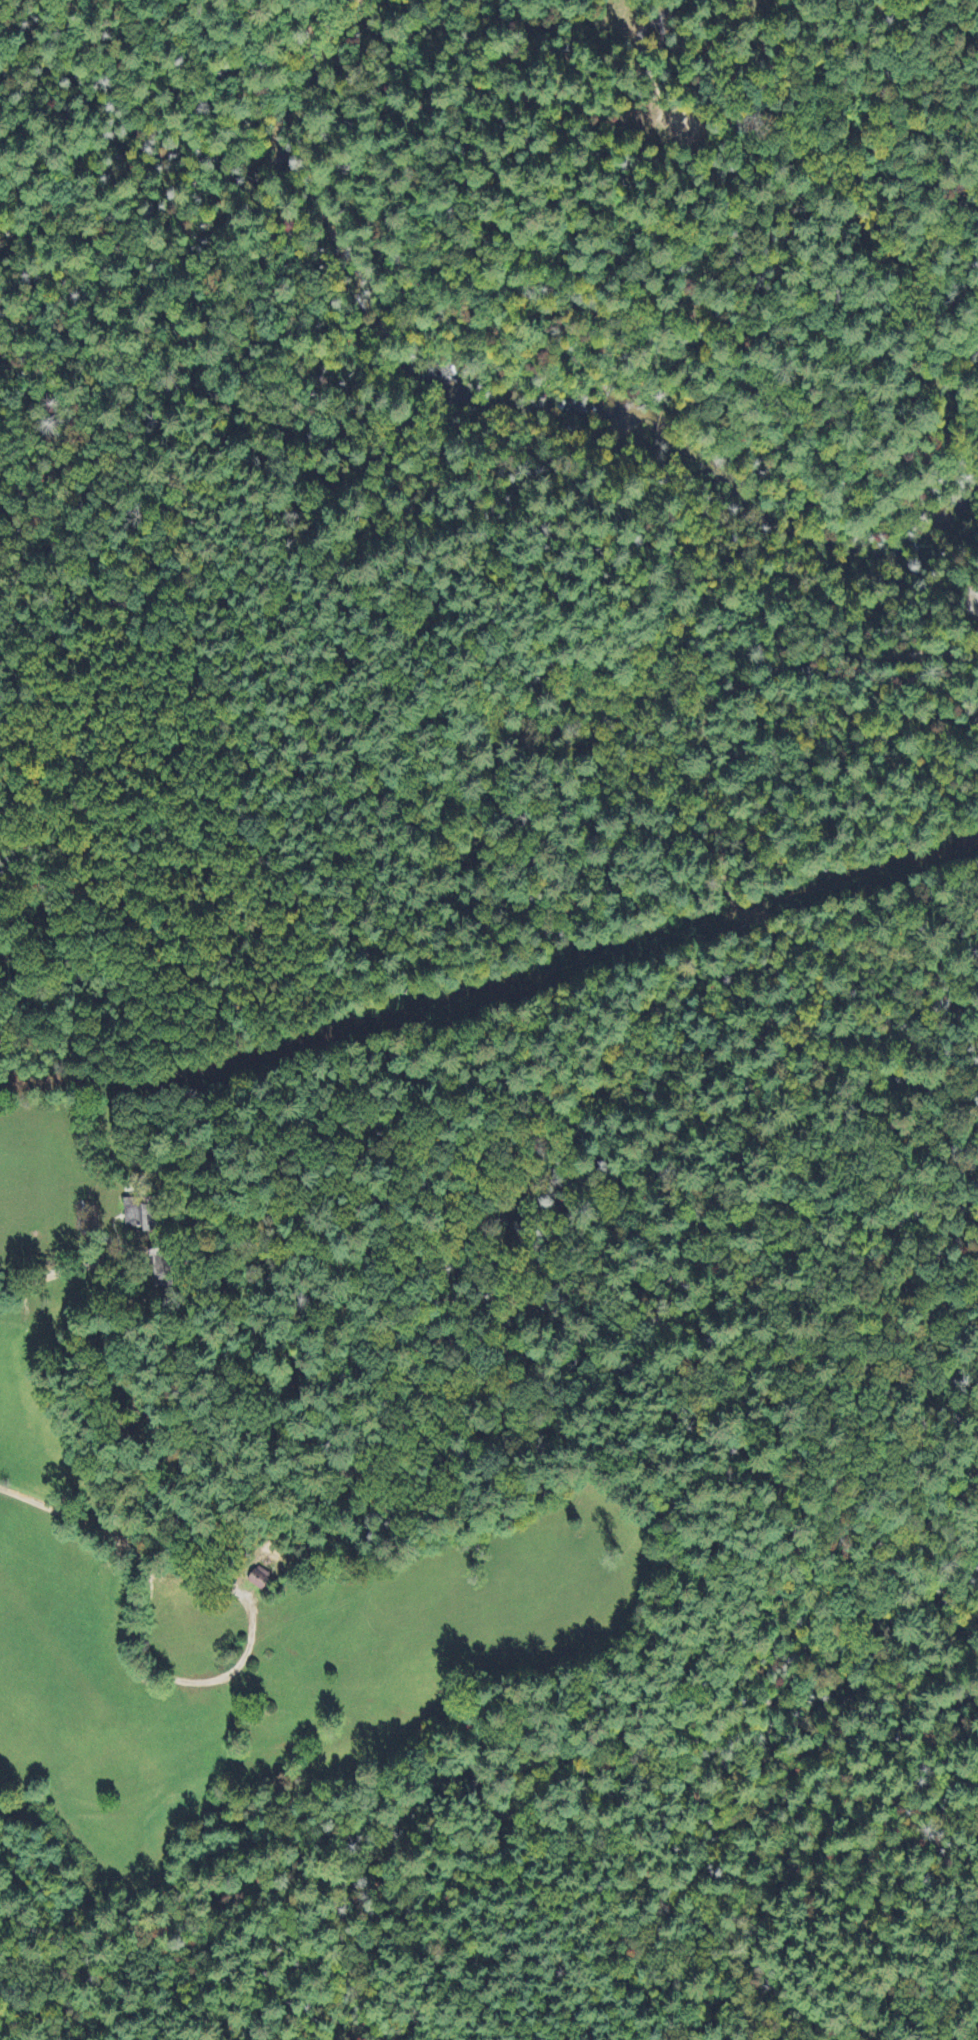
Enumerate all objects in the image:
building: (142, 1220)
road: (148, 1585)
road: (17, 2005)

